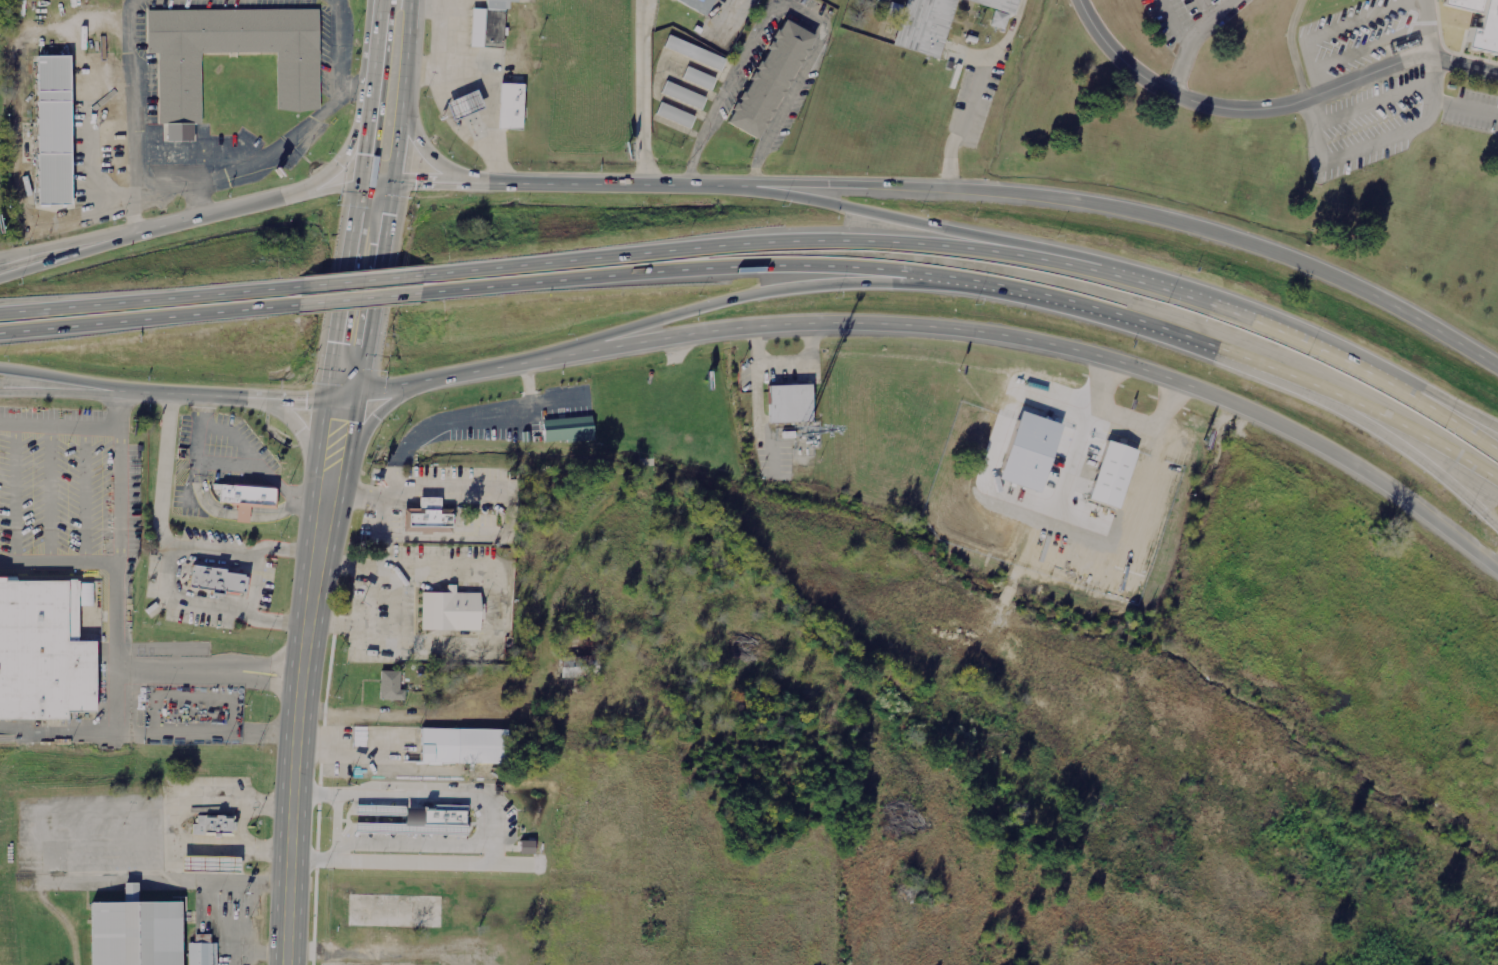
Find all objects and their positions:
building: (697, 4)
building: (897, 10)
building: (997, 10)
building: (1482, 24)
building: (488, 25)
building: (924, 26)
road: (1193, 39)
building: (692, 53)
building: (697, 79)
building: (772, 81)
building: (178, 83)
road: (403, 90)
road: (642, 92)
building: (682, 96)
building: (462, 104)
gas station: (462, 104)
building: (506, 106)
road: (1271, 107)
building: (673, 116)
building: (54, 131)
road: (340, 151)
road: (433, 156)
traffic signals: (360, 178)
traffic signals: (393, 181)
road: (550, 183)
road: (356, 201)
road: (1119, 211)
road: (196, 217)
road: (953, 232)
road: (813, 243)
road: (70, 257)
road: (747, 267)
road: (365, 282)
road: (375, 287)
road: (793, 290)
road: (150, 300)
road: (365, 300)
road: (148, 319)
road: (1163, 330)
road: (1288, 337)
road: (1044, 345)
road: (75, 380)
road: (429, 380)
road: (161, 394)
traffic signals: (360, 394)
traffic signals: (323, 402)
building: (791, 406)
road: (1440, 407)
road: (508, 412)
road: (376, 416)
road: (1385, 418)
road: (1440, 418)
road: (293, 421)
building: (566, 432)
road: (1389, 439)
road: (403, 450)
building: (1108, 475)
building: (245, 495)
road: (340, 504)
road: (309, 506)
building: (425, 516)
road: (167, 563)
road: (376, 567)
building: (216, 581)
building: (450, 612)
road: (118, 622)
building: (43, 653)
building: (579, 668)
building: (391, 686)
building: (463, 747)
road: (294, 788)
building: (446, 821)
building: (213, 826)
building: (528, 848)
building: (136, 932)
building: (203, 938)
building: (198, 954)

